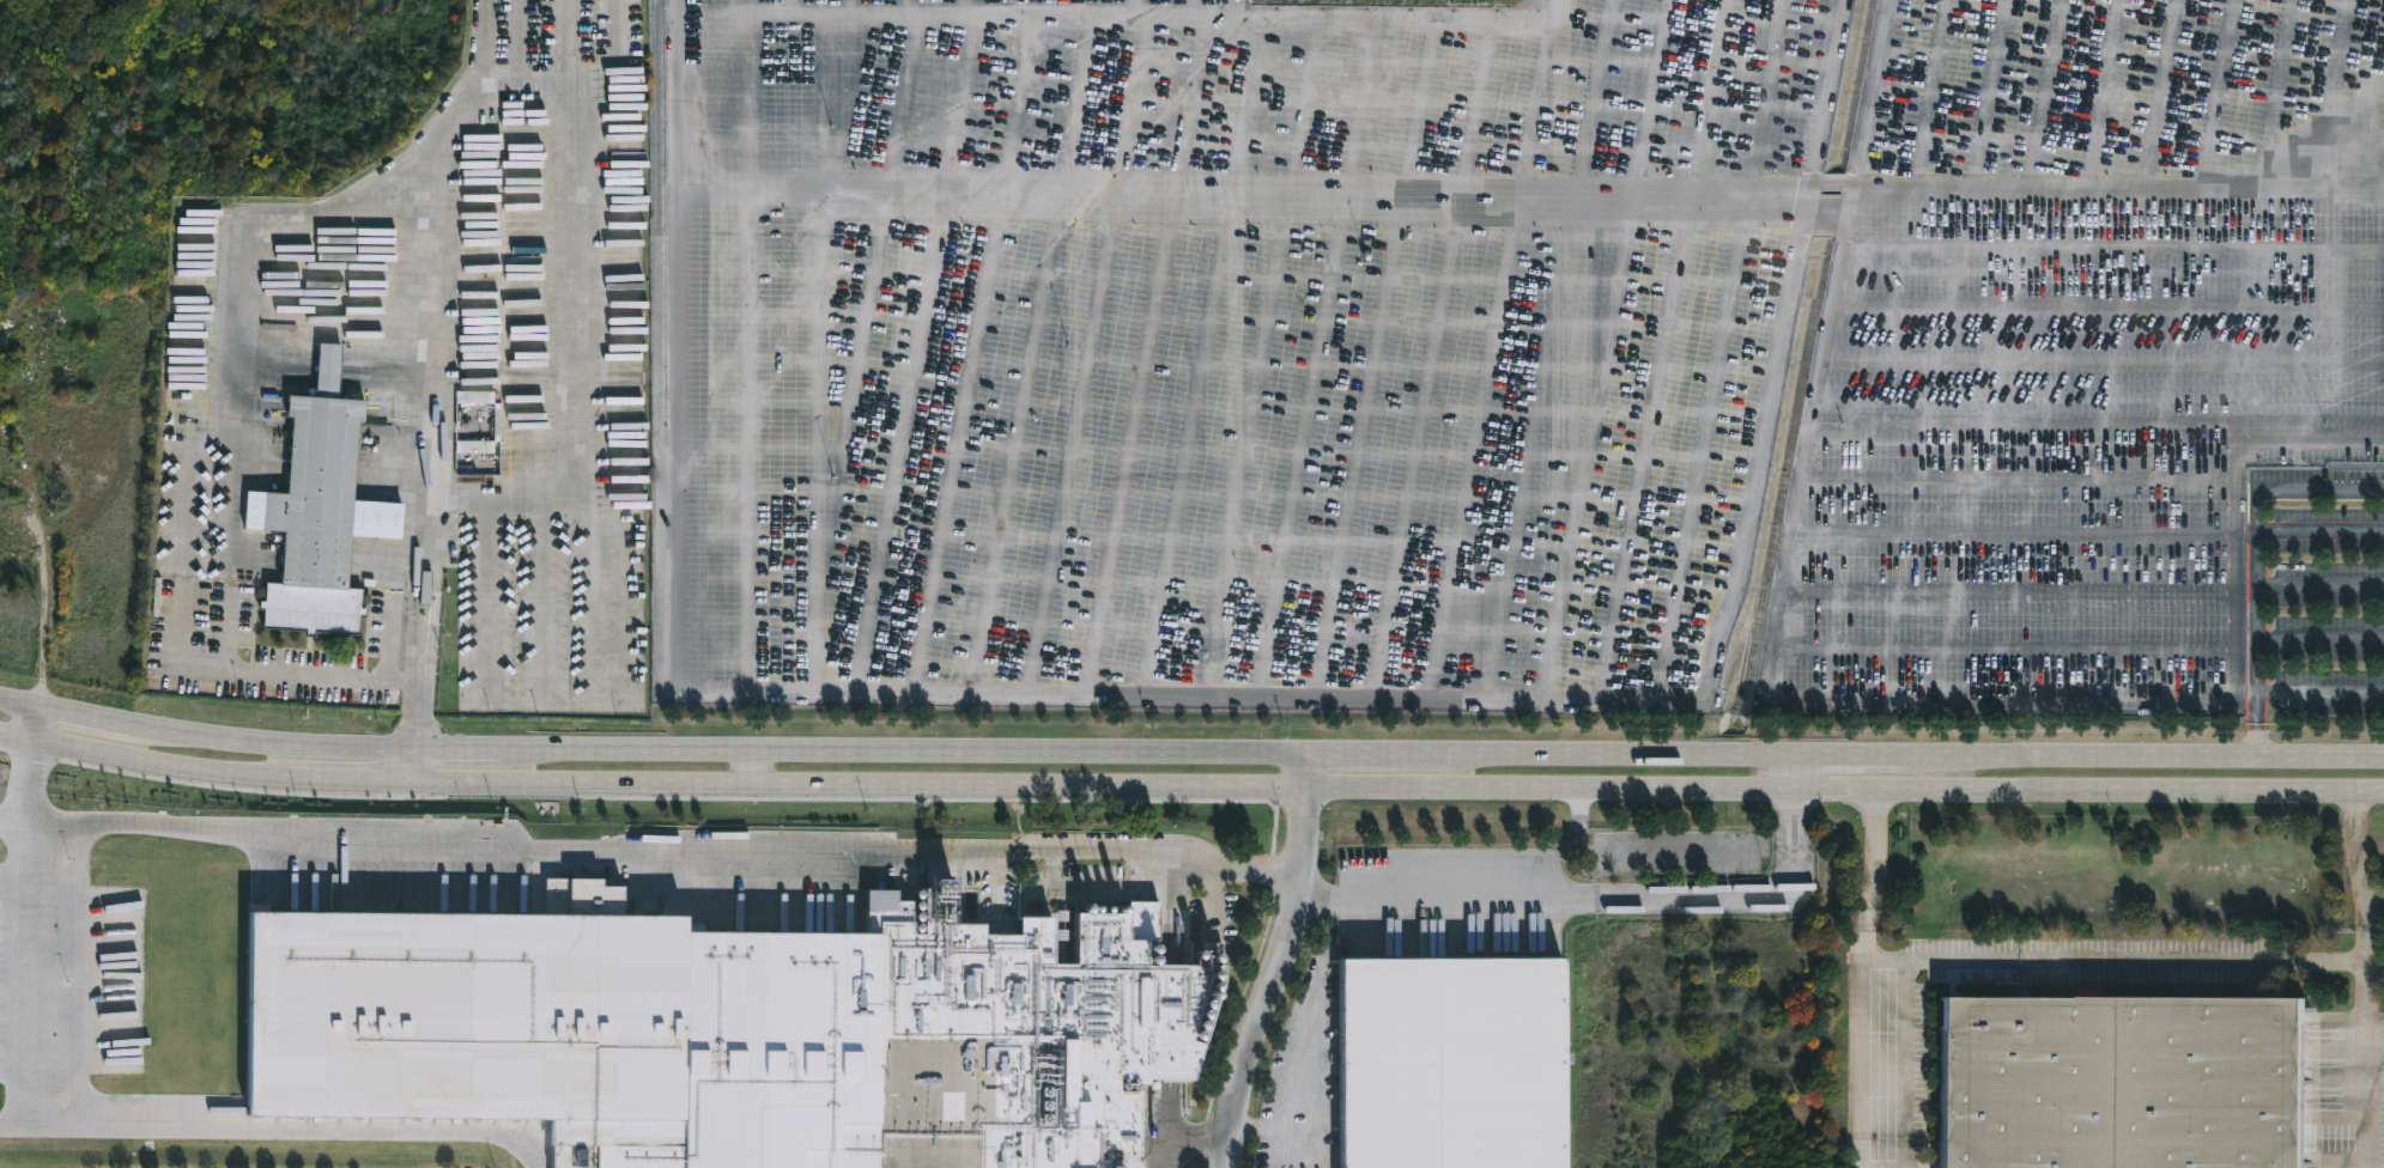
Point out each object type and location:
road: (675, 5)
road: (802, 5)
road: (859, 6)
road: (915, 6)
road: (973, 6)
road: (1076, 6)
road: (1133, 7)
road: (1187, 7)
road: (1237, 7)
road: (1124, 13)
road: (479, 86)
road: (1249, 97)
road: (1243, 181)
road: (2140, 194)
road: (1837, 285)
road: (962, 437)
building: (498, 457)
building: (319, 511)
road: (2258, 527)
road: (2025, 534)
road: (2321, 534)
road: (2321, 590)
road: (1777, 633)
parking lot: (2111, 634)
road: (2321, 640)
road: (388, 643)
road: (330, 676)
road: (1134, 695)
road: (1998, 695)
road: (2321, 695)
road: (41, 724)
road: (2258, 728)
road: (1189, 755)
road: (411, 765)
road: (757, 771)
road: (1795, 775)
road: (1189, 789)
road: (13, 820)
road: (1795, 845)
road: (662, 846)
road: (1632, 853)
road: (2358, 857)
road: (1874, 858)
road: (1106, 888)
road: (1545, 896)
road: (1272, 962)
road: (2116, 963)
road: (78, 977)
building: (718, 1034)
road: (1869, 1046)
road: (2360, 1046)
building: (1449, 1059)
road: (1300, 1076)
building: (2111, 1083)
road: (19, 1125)
road: (1175, 1125)
road: (105, 1129)
building: (1326, 1151)

